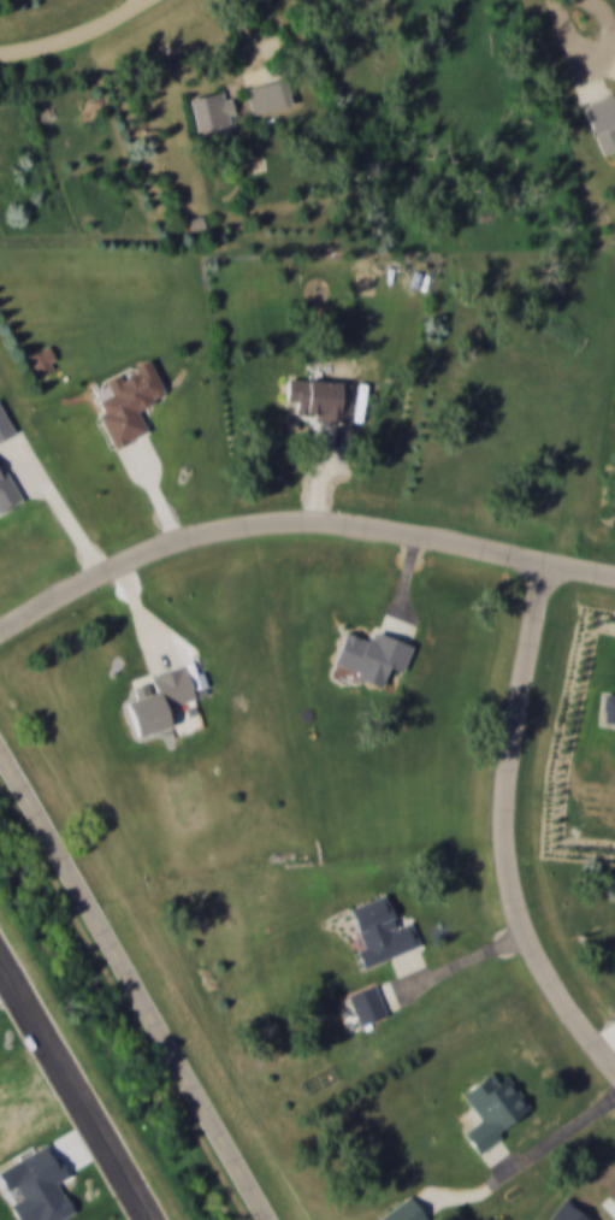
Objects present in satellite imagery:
road: (77, 37)
building: (205, 119)
building: (598, 126)
building: (318, 403)
building: (119, 406)
building: (2, 431)
building: (4, 499)
road: (297, 528)
building: (372, 658)
building: (164, 707)
road: (502, 831)
building: (380, 935)
road: (132, 988)
building: (367, 1007)
road: (77, 1084)
building: (493, 1112)
road: (525, 1167)

